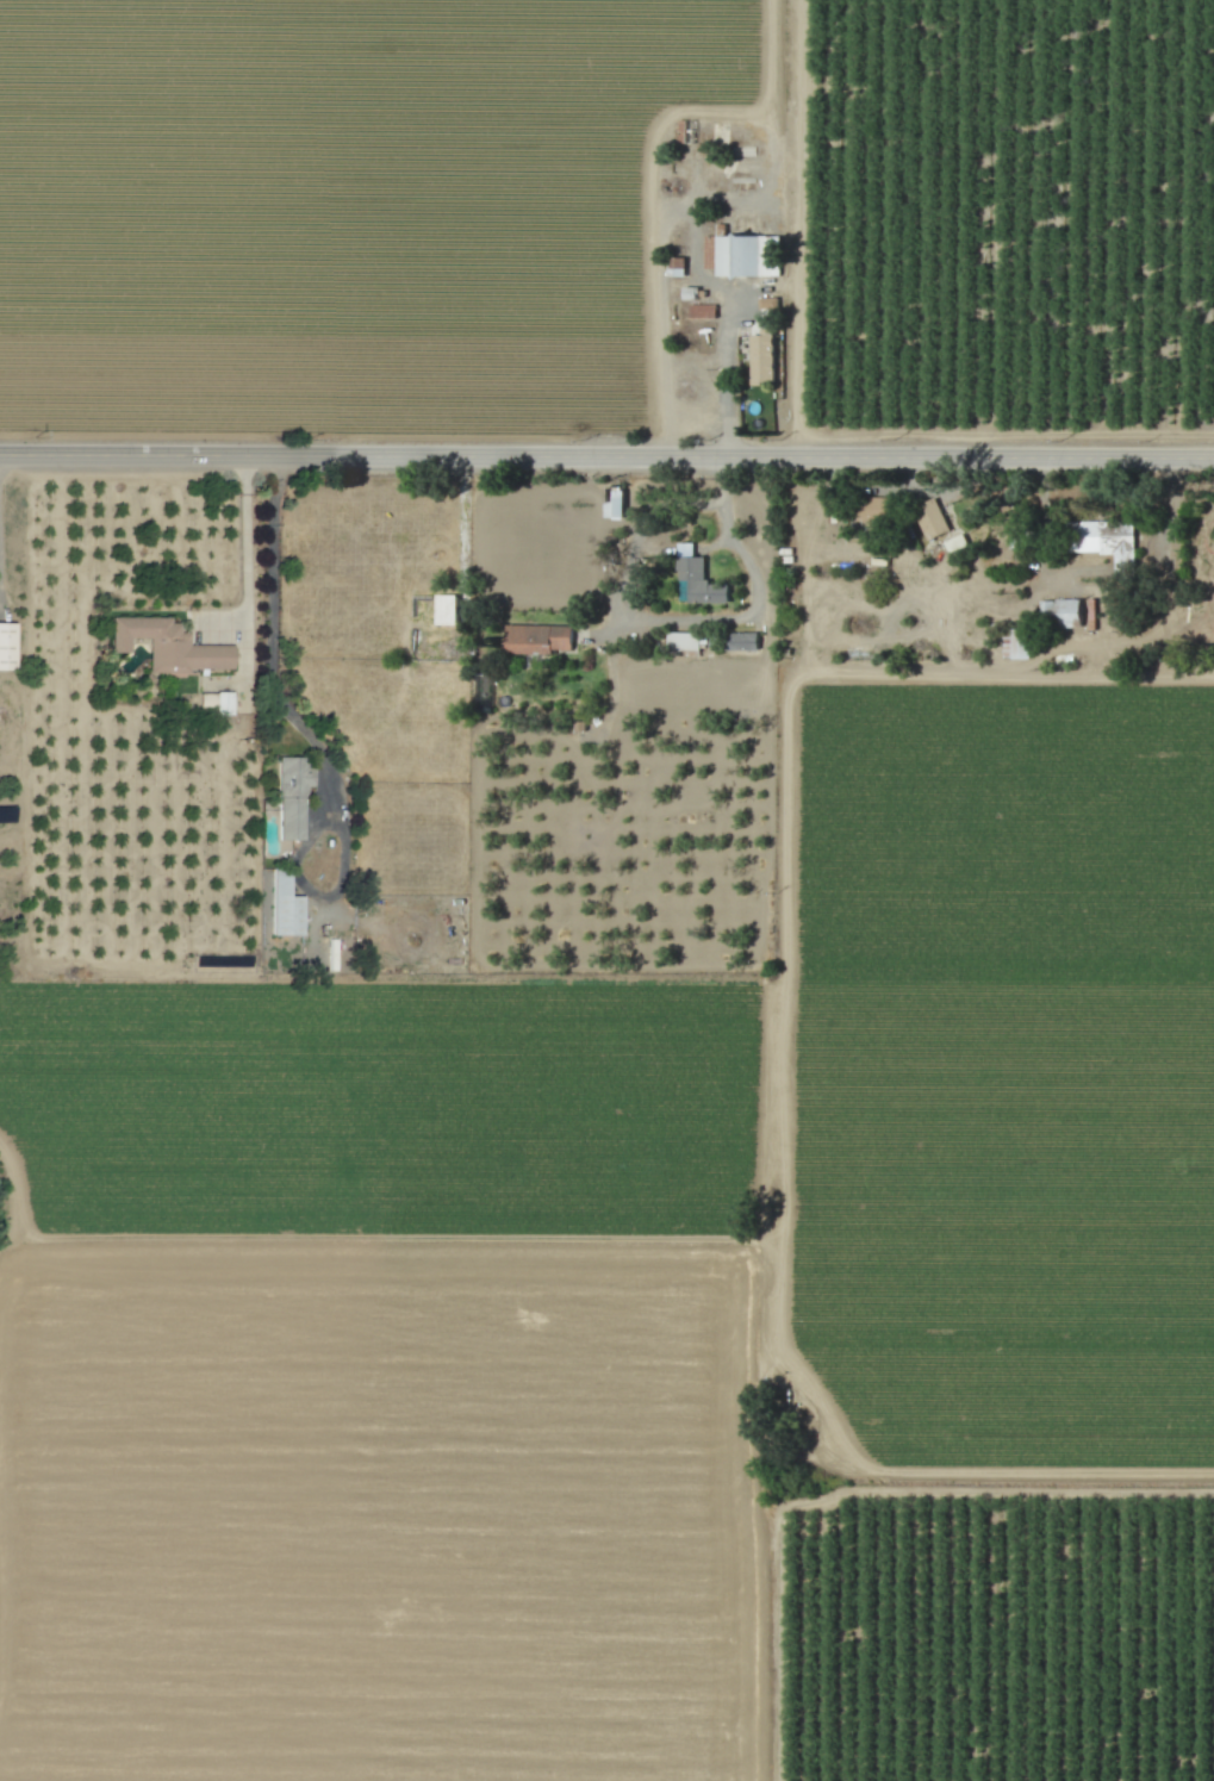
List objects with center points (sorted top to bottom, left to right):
road: (684, 208)
building: (743, 254)
building: (764, 359)
road: (693, 421)
road: (606, 454)
road: (945, 492)
building: (617, 504)
building: (933, 521)
building: (957, 542)
building: (1112, 543)
building: (699, 584)
building: (448, 609)
building: (1070, 611)
road: (269, 616)
road: (676, 621)
building: (540, 639)
building: (684, 641)
building: (746, 641)
building: (6, 646)
building: (170, 646)
building: (1016, 646)
building: (218, 703)
building: (292, 797)
road: (332, 890)
building: (286, 909)

